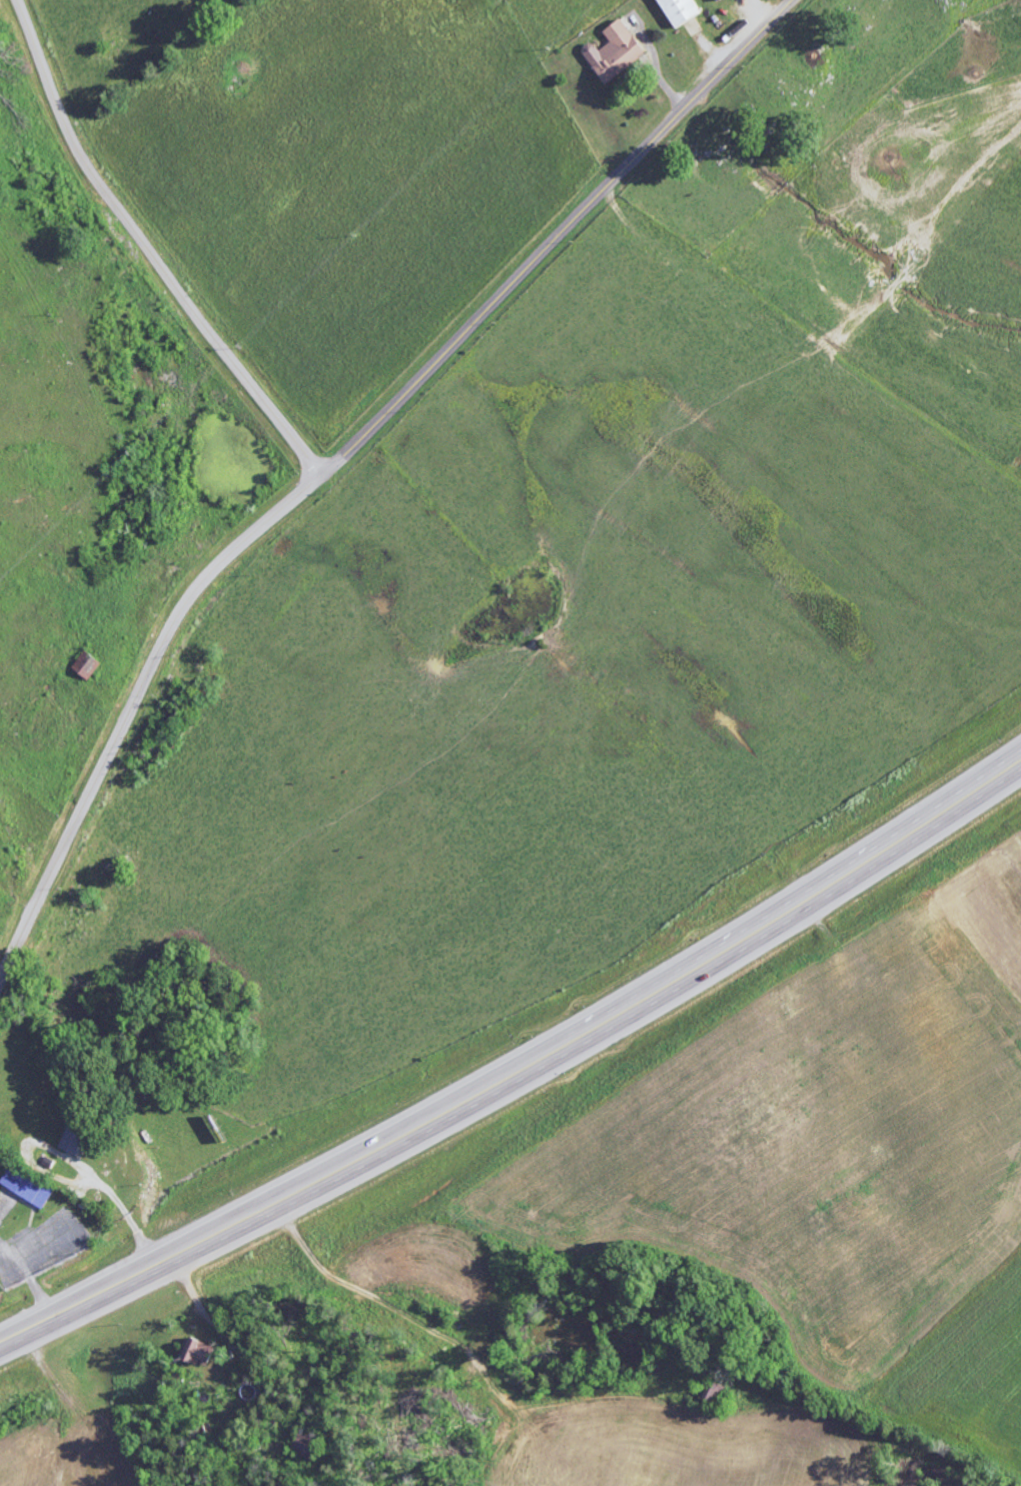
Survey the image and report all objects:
building: (721, 1)
building: (682, 11)
building: (617, 52)
road: (553, 239)
road: (148, 250)
building: (90, 665)
road: (130, 714)
road: (521, 1070)
building: (76, 1140)
building: (29, 1186)
building: (202, 1353)

